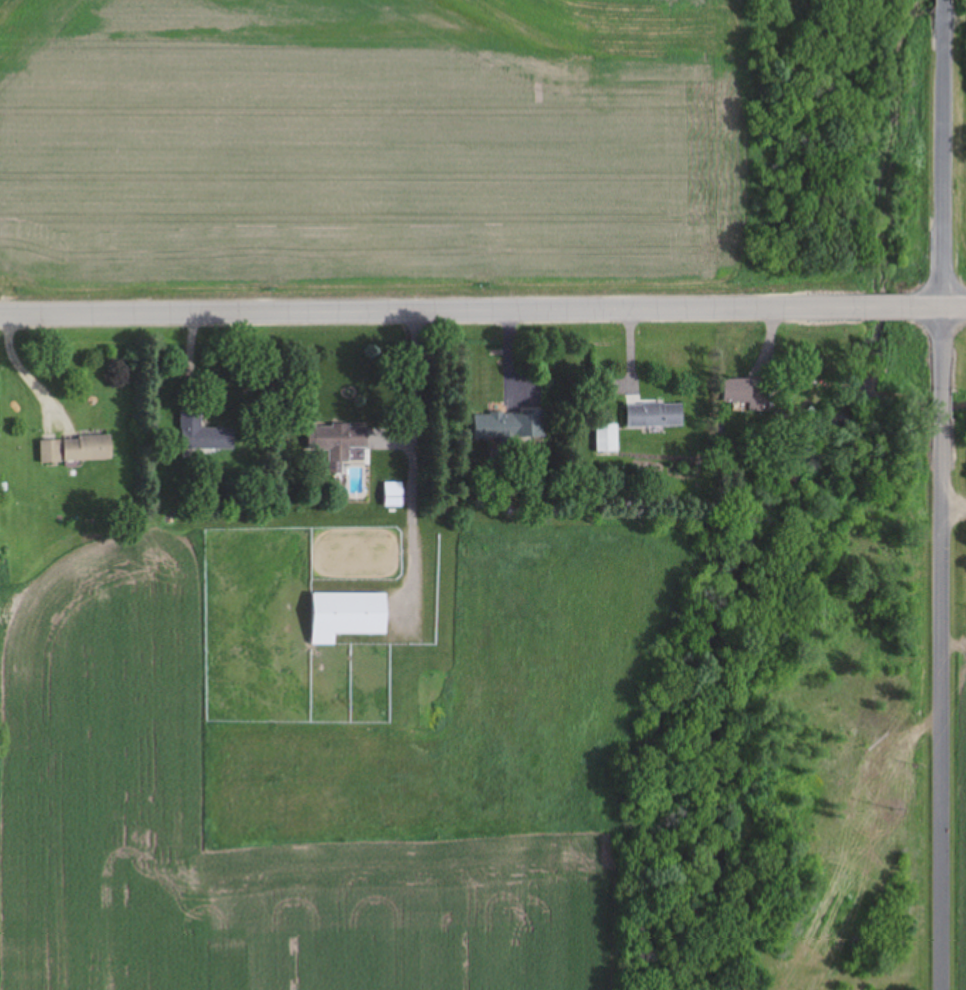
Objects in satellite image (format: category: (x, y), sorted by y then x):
road: (943, 2)
river: (912, 23)
road: (943, 198)
river: (884, 224)
road: (883, 307)
road: (936, 307)
road: (430, 311)
building: (744, 393)
road: (943, 405)
building: (656, 414)
building: (506, 426)
building: (204, 433)
building: (608, 438)
building: (341, 442)
building: (78, 449)
building: (350, 615)
river: (716, 671)
road: (943, 705)
crop: (958, 811)

